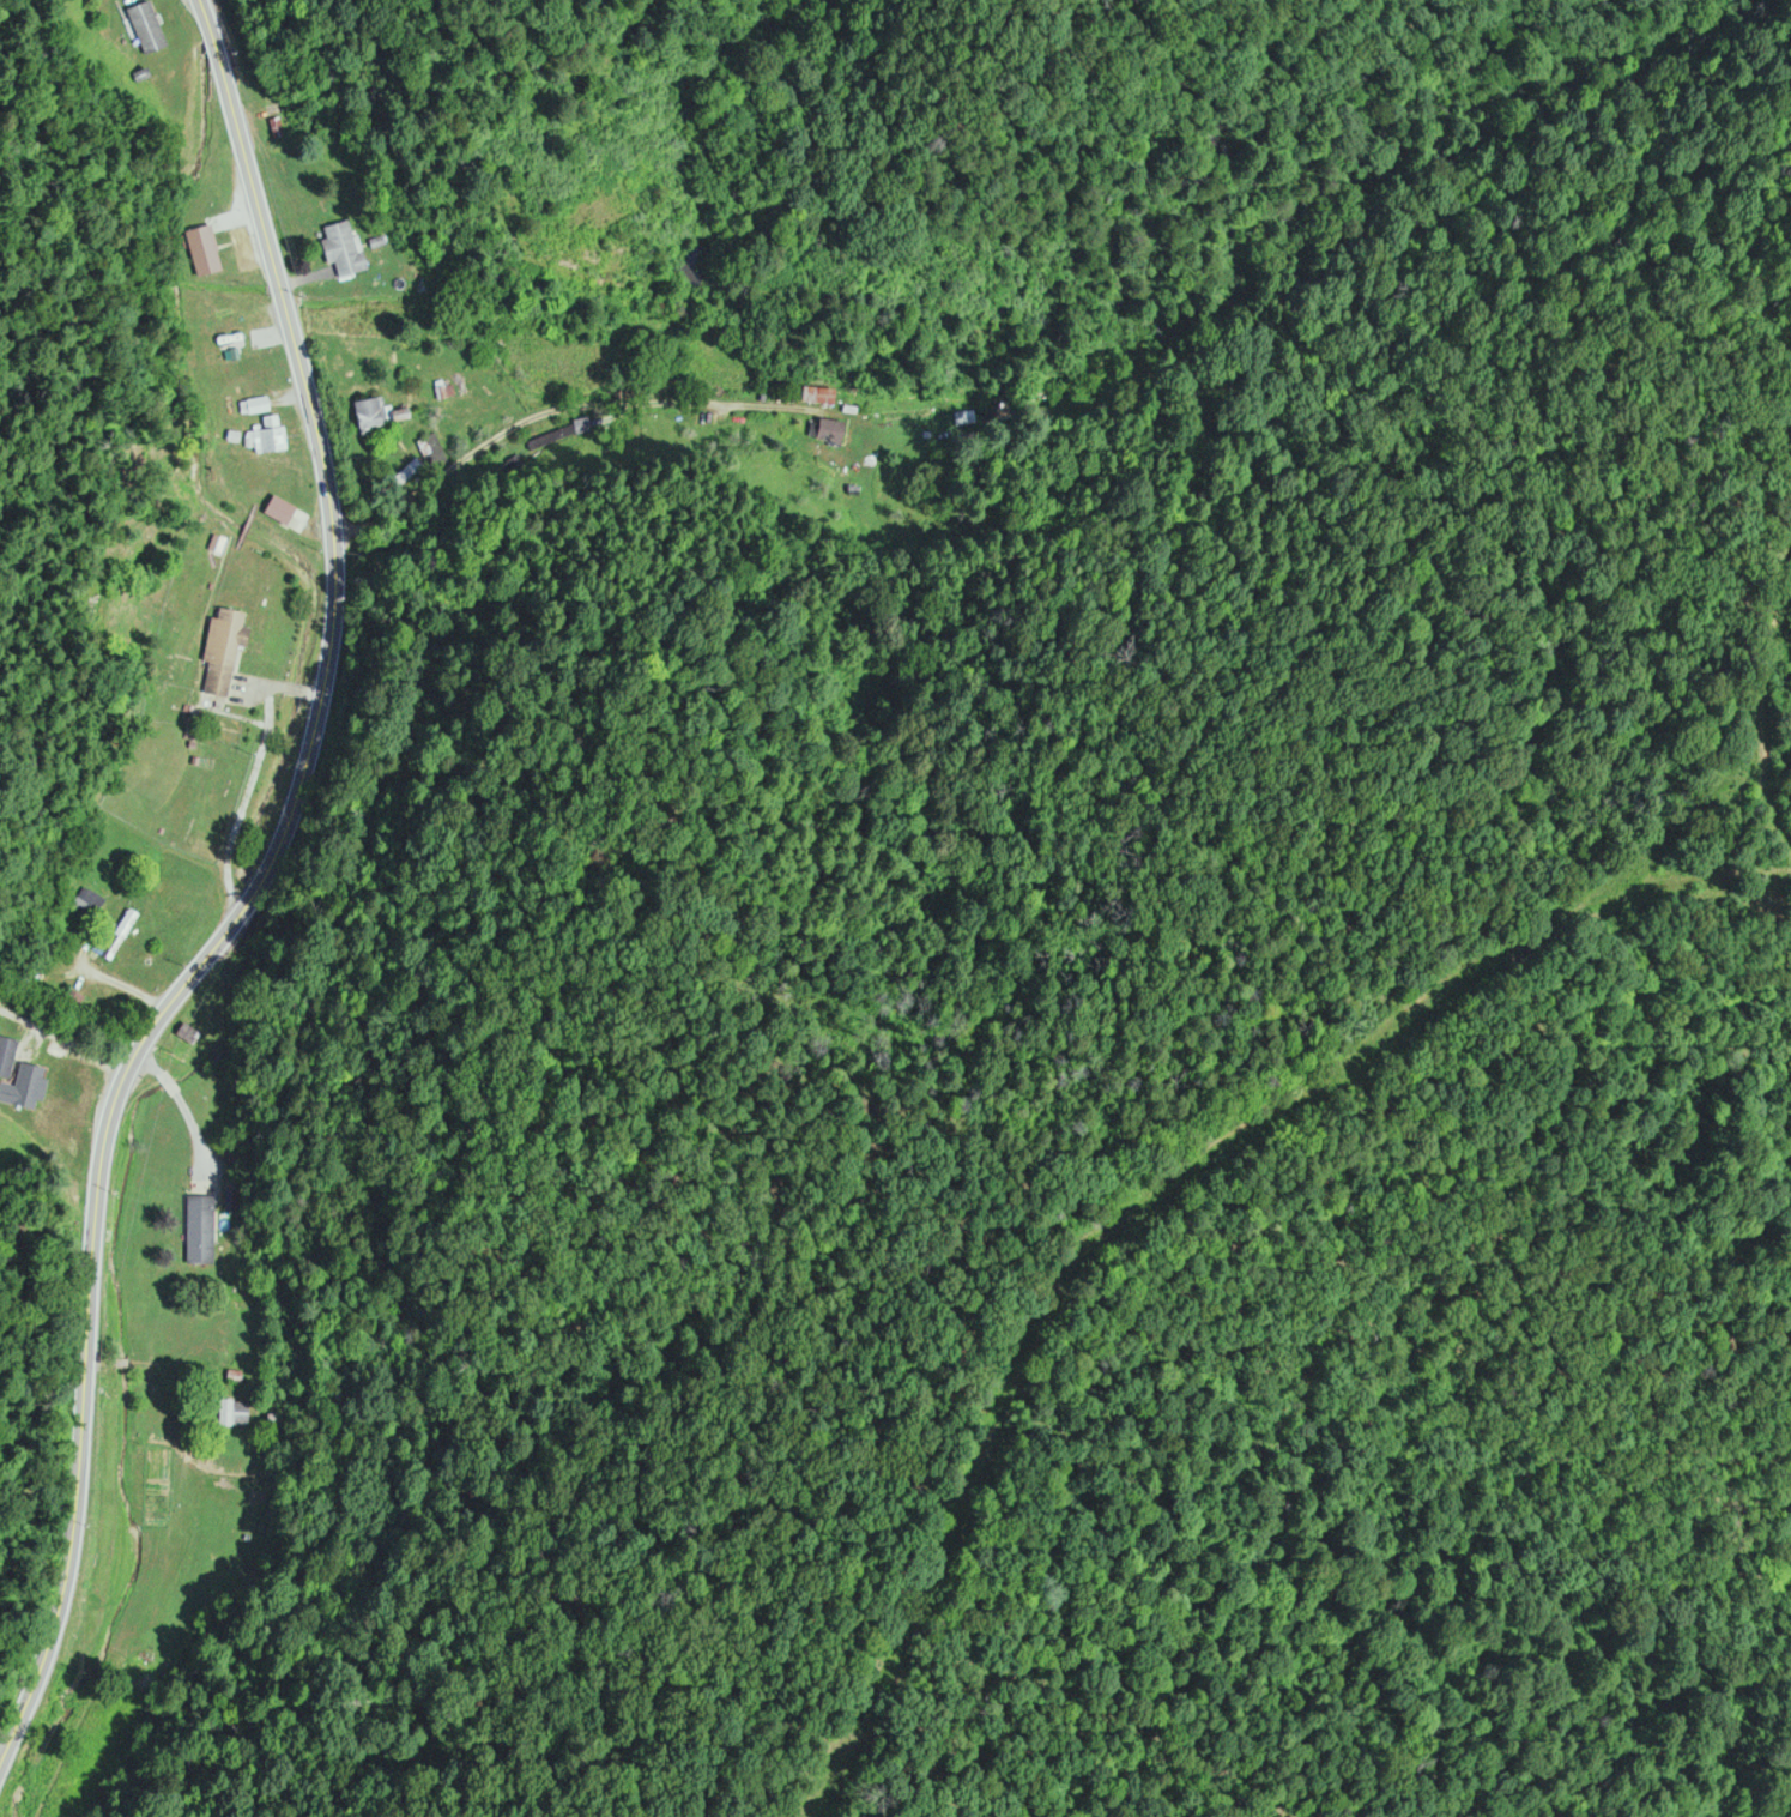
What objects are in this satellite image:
building: (144, 29)
building: (340, 248)
building: (201, 252)
building: (443, 392)
building: (817, 397)
building: (375, 417)
building: (828, 435)
building: (273, 441)
road: (551, 445)
building: (432, 454)
building: (222, 653)
road: (250, 900)
building: (184, 1034)
building: (6, 1057)
road: (1369, 1088)
building: (199, 1231)
building: (229, 1413)
road: (904, 1670)
road: (1127, 1689)

